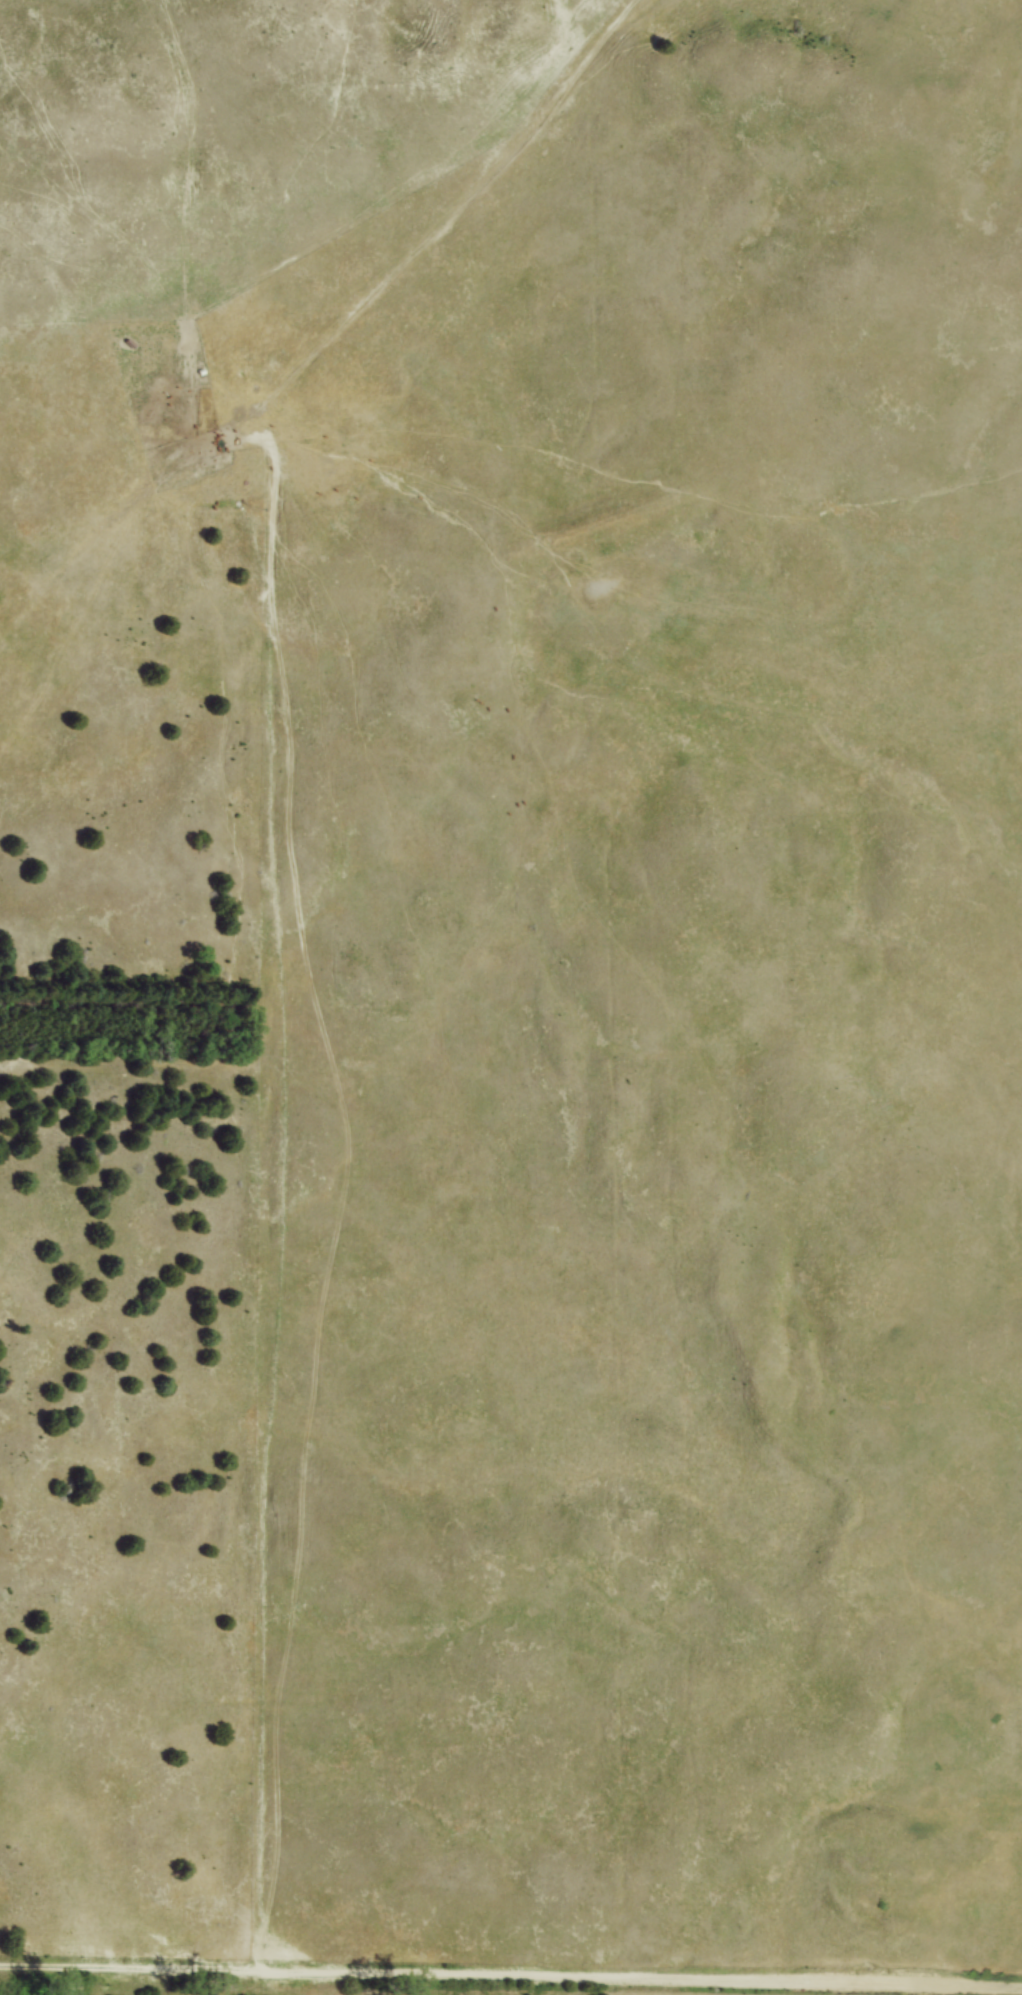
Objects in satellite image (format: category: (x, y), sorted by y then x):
road: (511, 1976)

